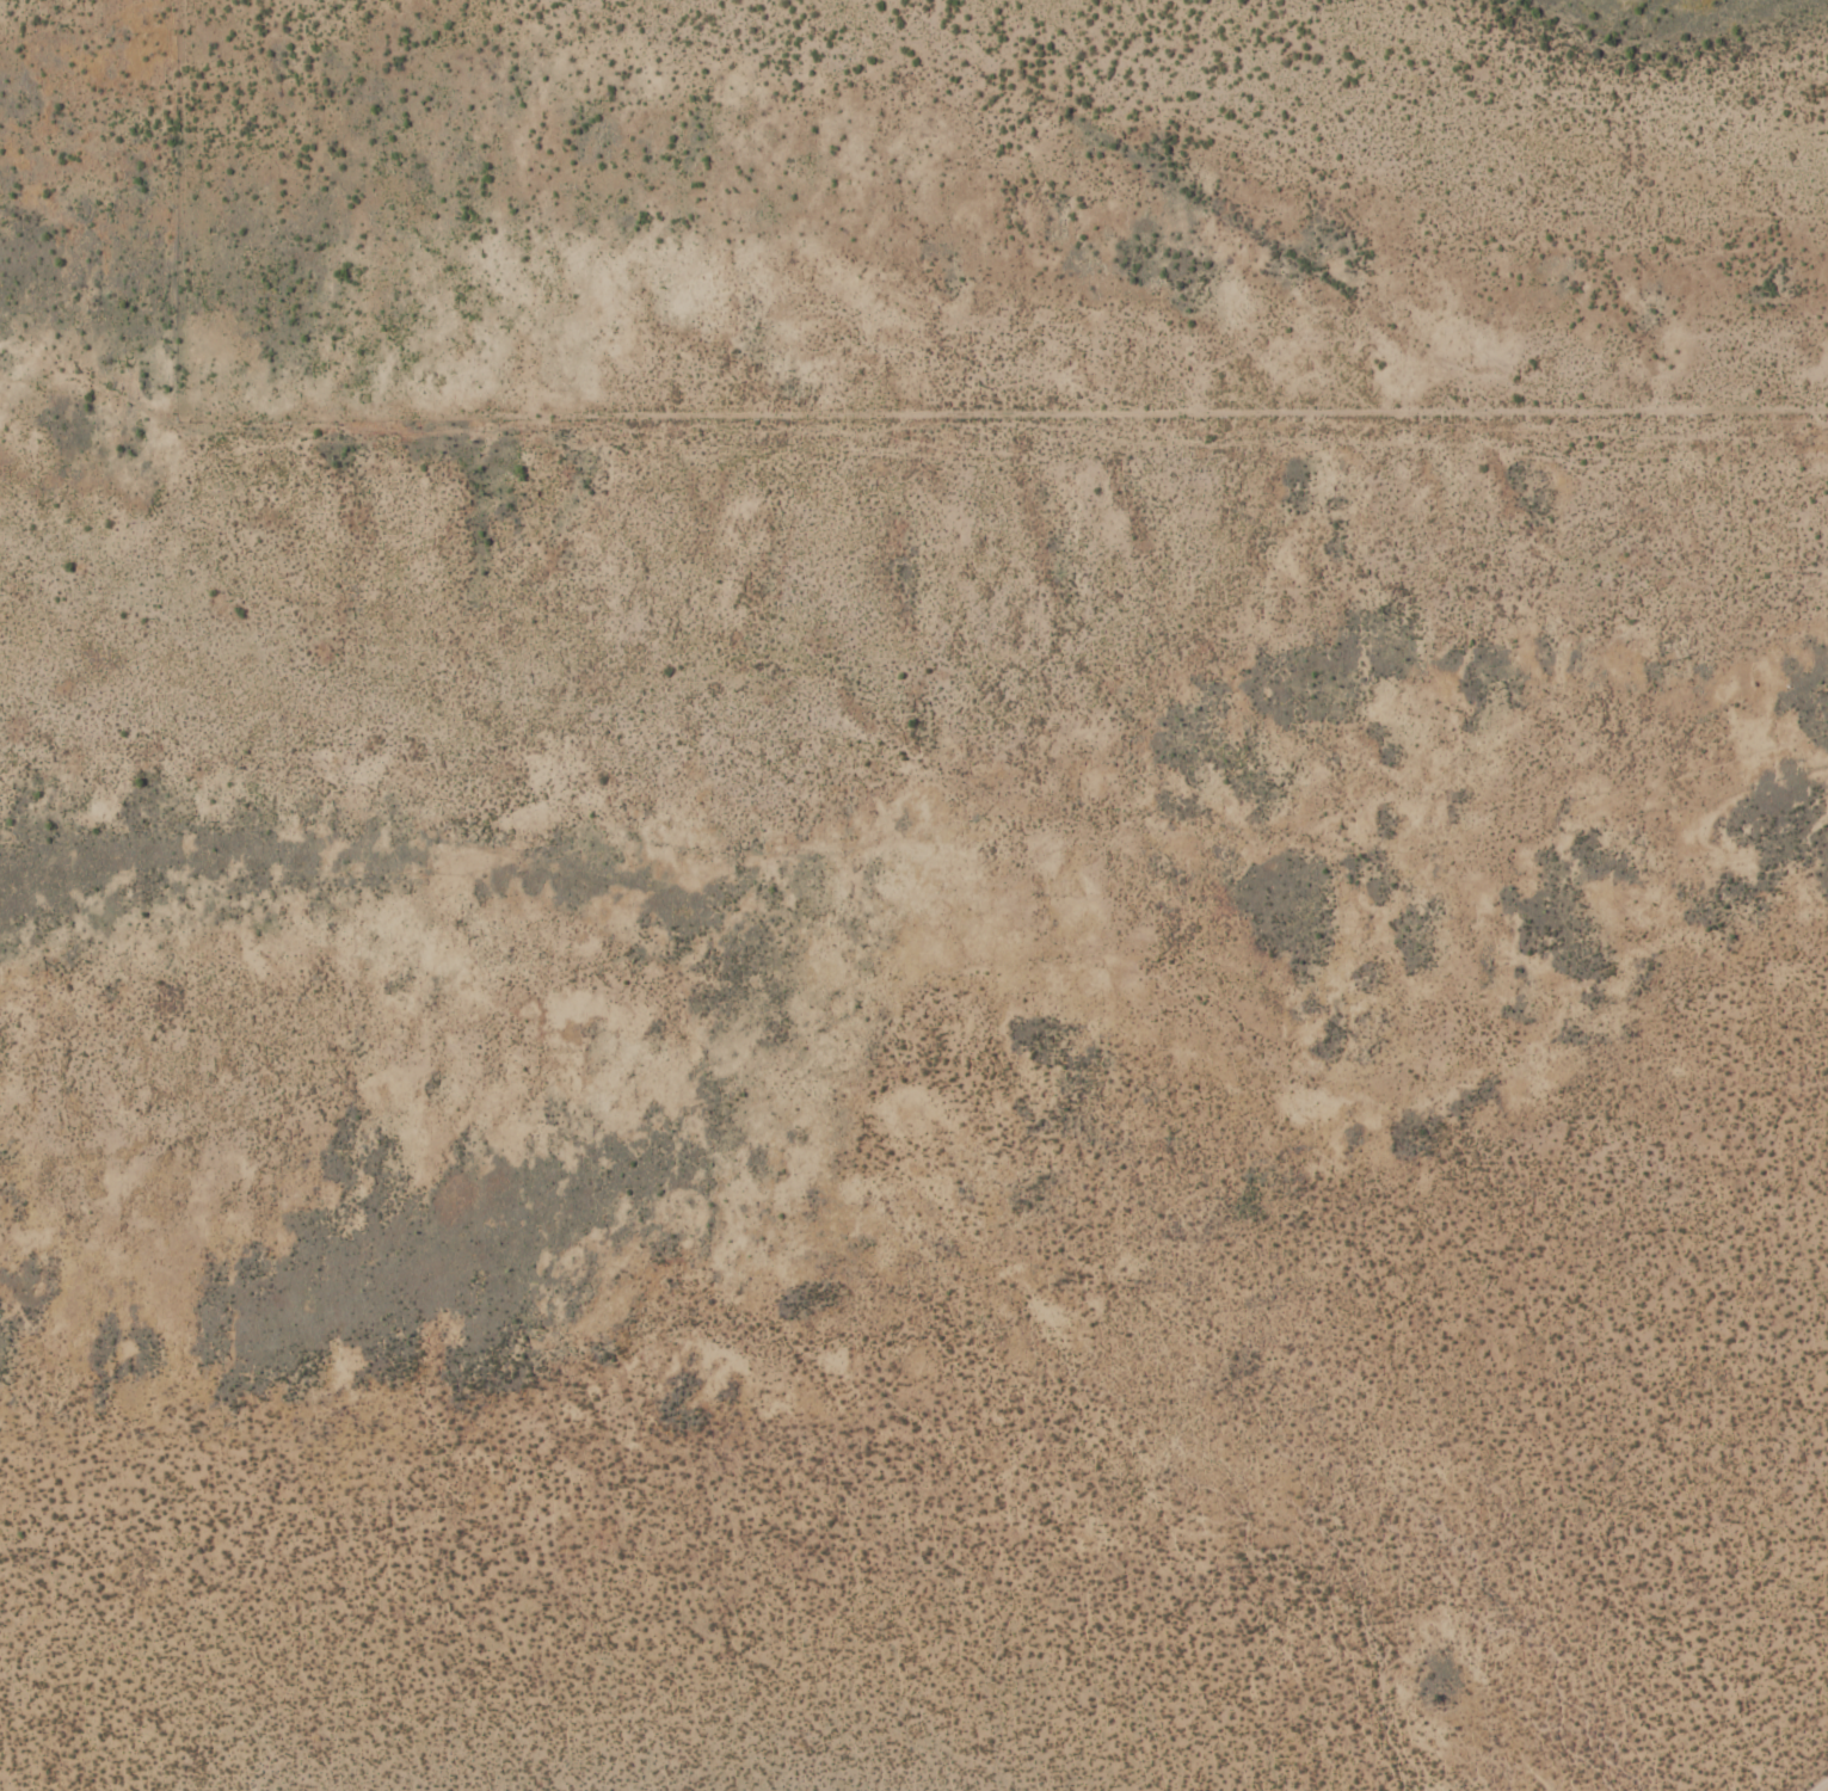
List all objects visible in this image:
road: (1815, 1780)

